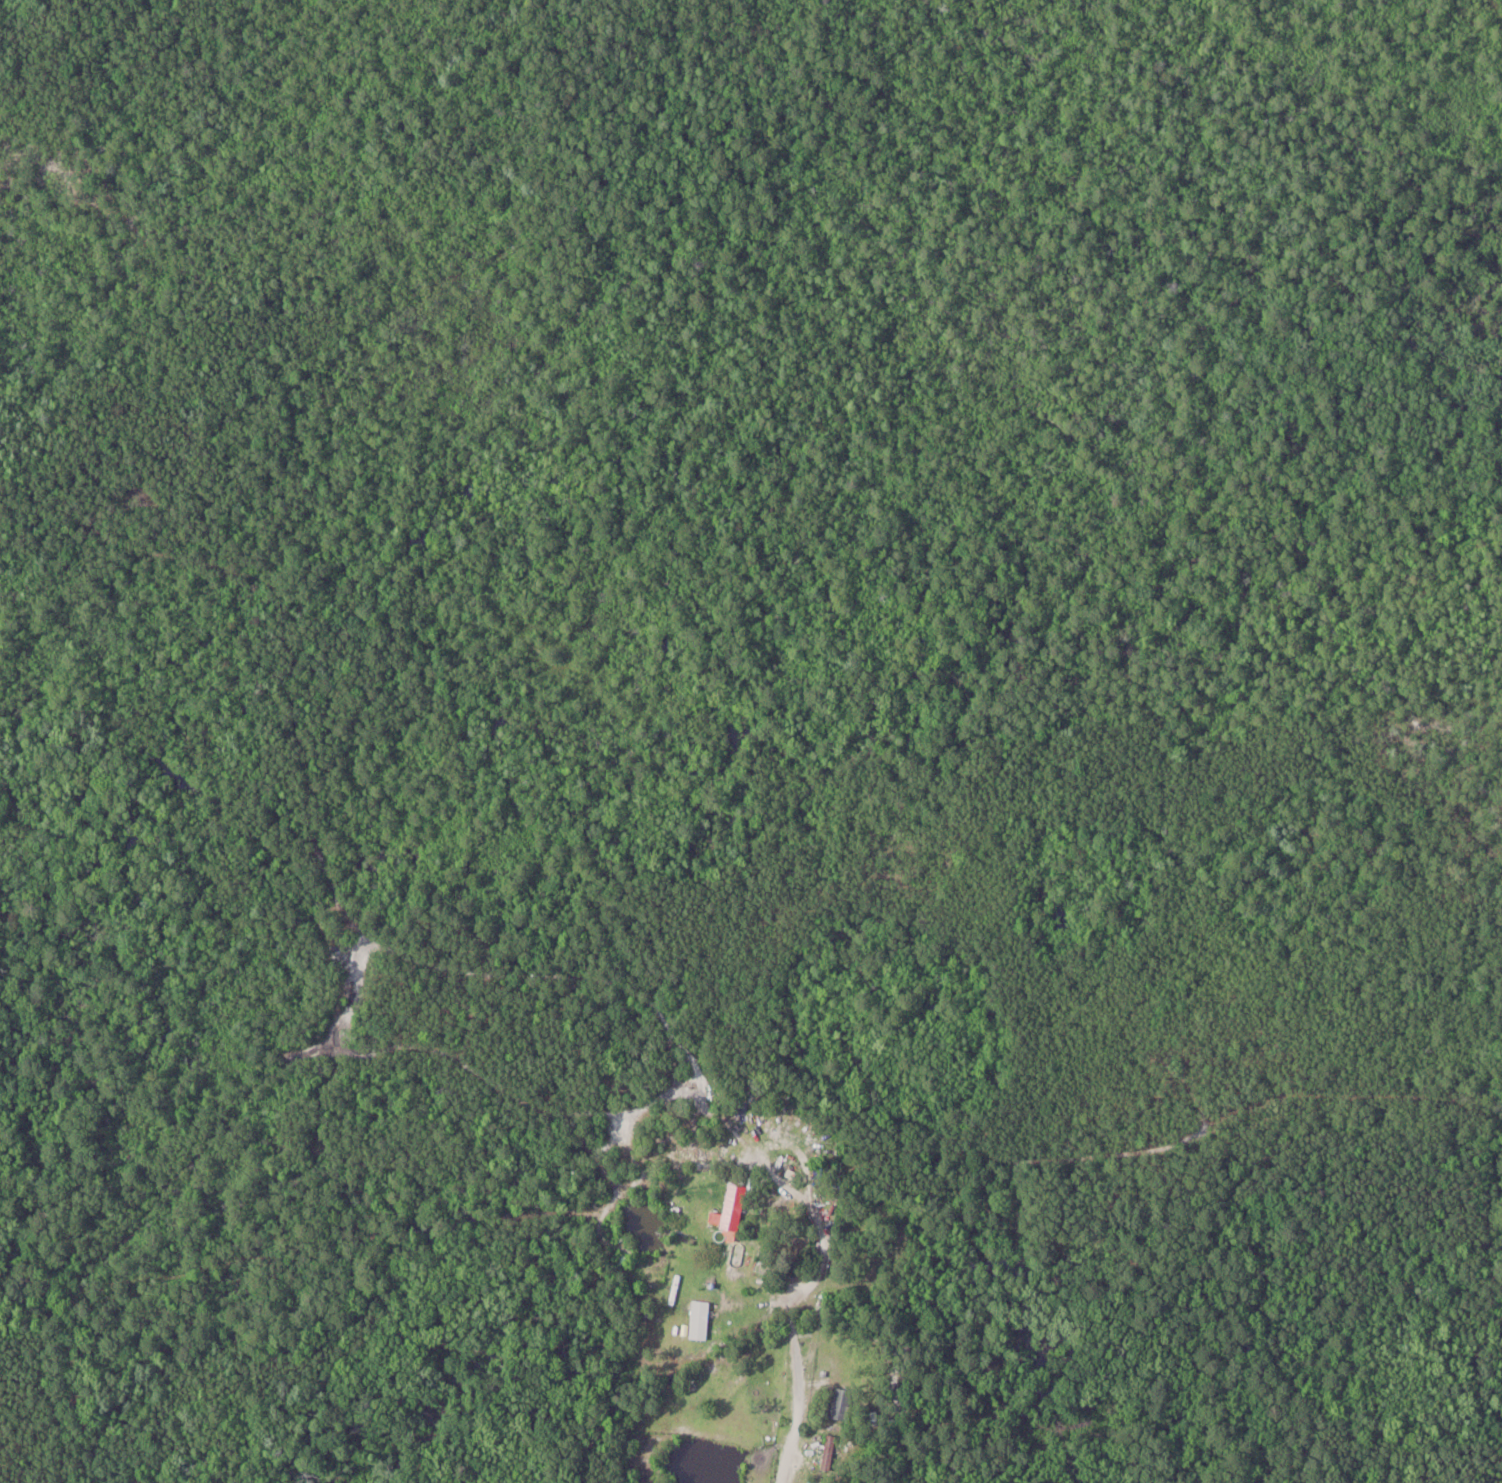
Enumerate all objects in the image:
building: (734, 1205)
road: (1500, 1270)
building: (700, 1318)
road: (805, 1329)
building: (841, 1402)
building: (828, 1451)

